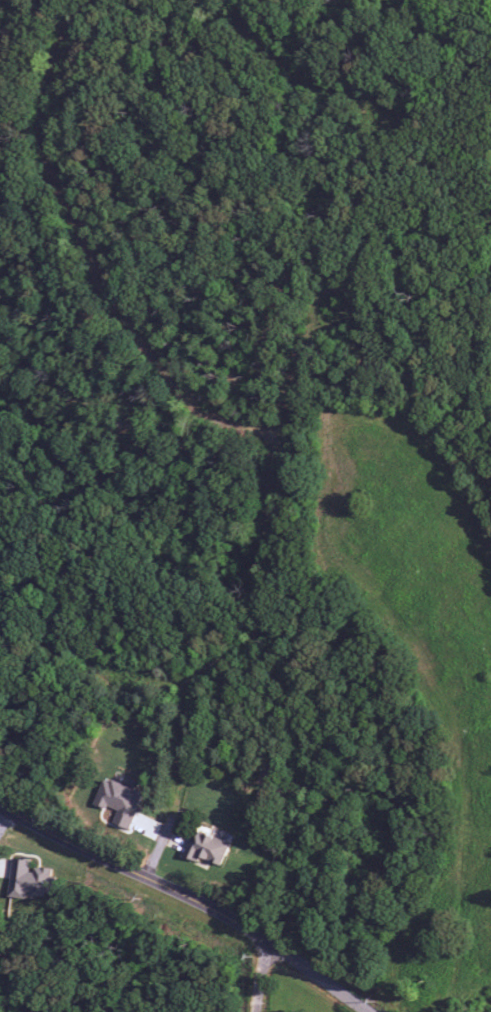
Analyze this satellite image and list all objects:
road: (288, 61)
road: (87, 259)
road: (304, 359)
road: (264, 577)
road: (153, 671)
road: (184, 783)
building: (119, 802)
road: (4, 823)
building: (206, 848)
building: (29, 879)
road: (188, 899)
road: (141, 909)
road: (264, 978)

